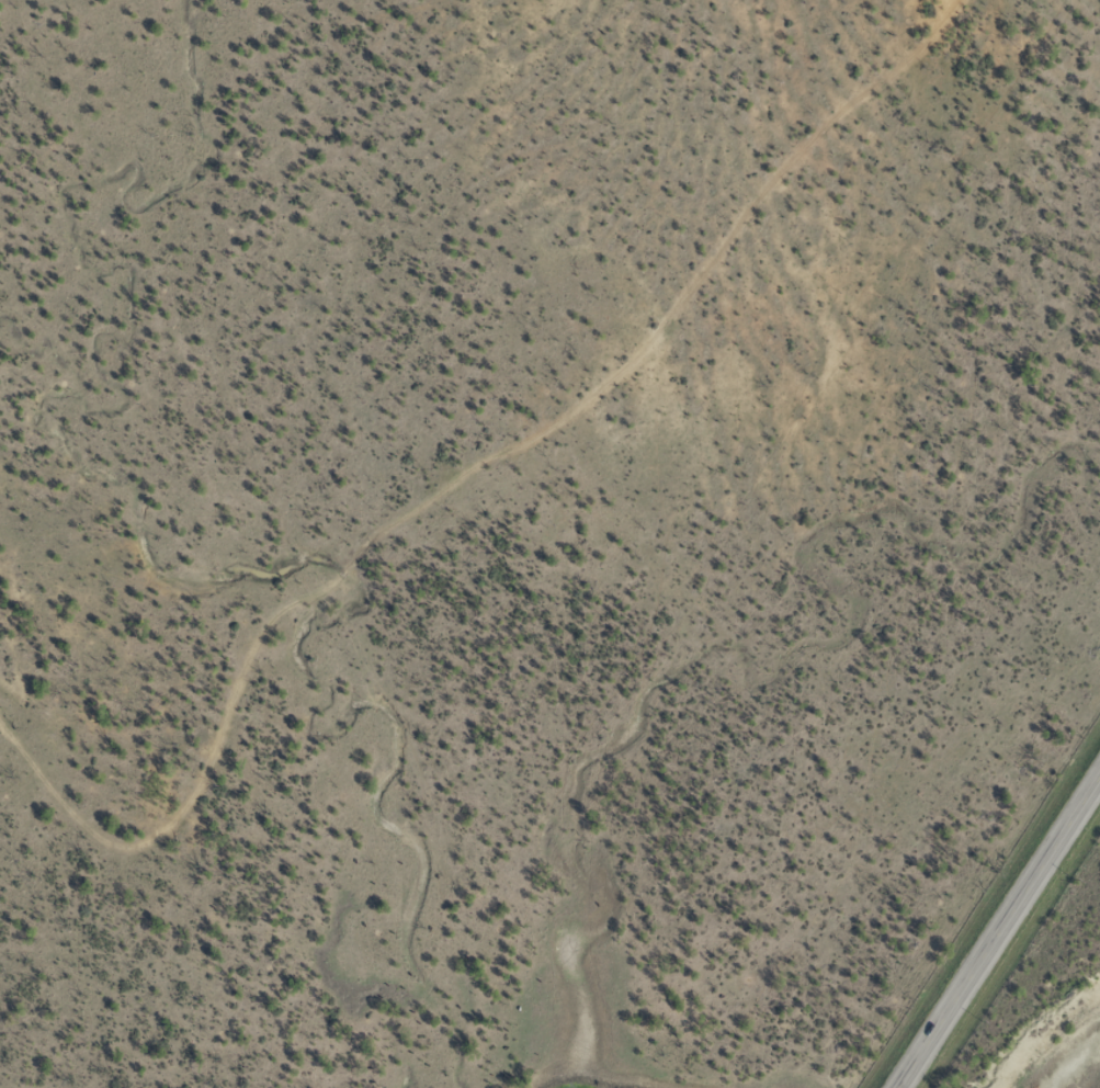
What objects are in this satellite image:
road: (1000, 936)

